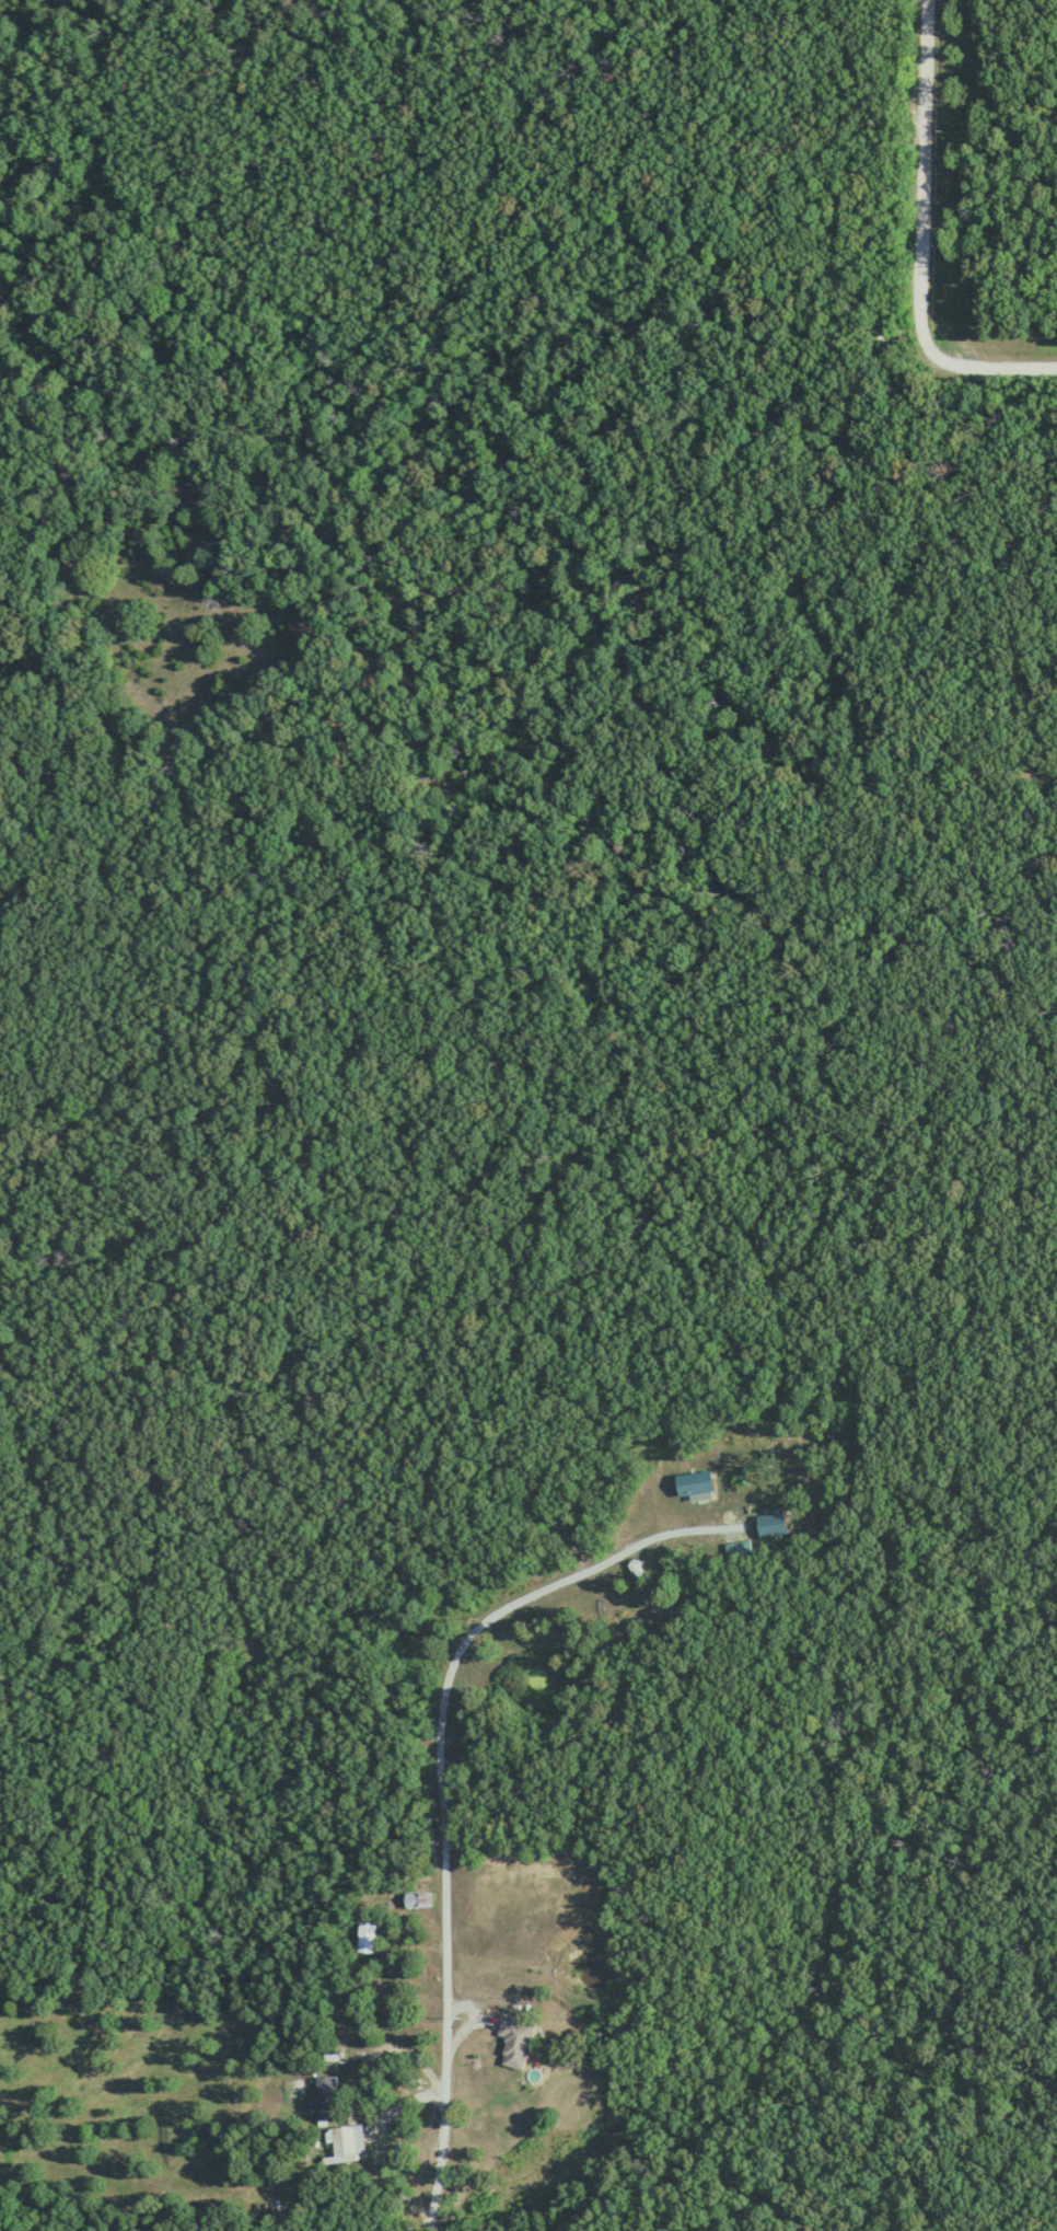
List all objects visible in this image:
road: (921, 240)
road: (649, 1534)
building: (622, 1602)
road: (444, 1869)
building: (432, 1892)
building: (515, 2041)
building: (325, 2095)
building: (344, 2142)

